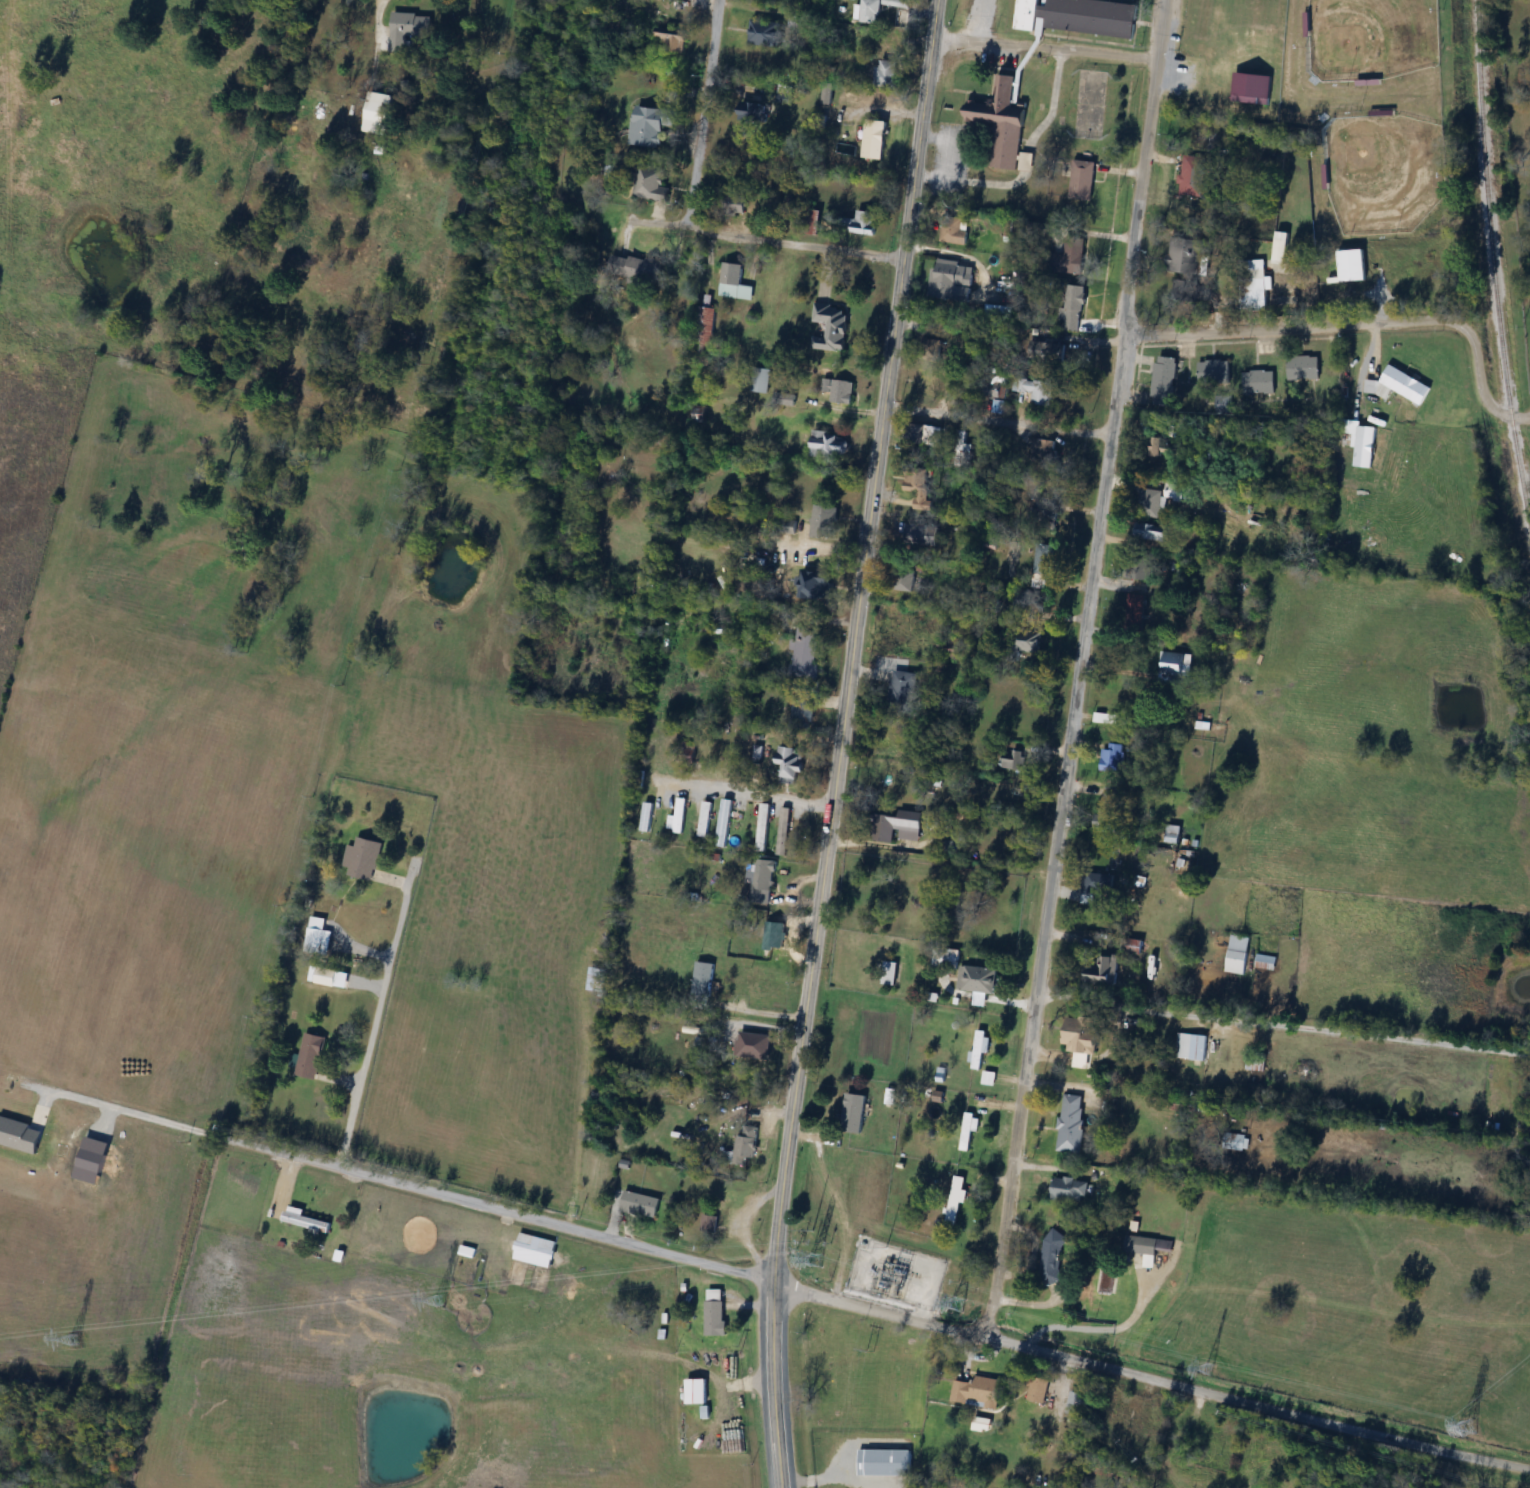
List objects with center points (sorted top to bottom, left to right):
building: (898, 3)
road: (375, 7)
building: (868, 11)
building: (1077, 17)
building: (795, 20)
building: (408, 30)
building: (765, 32)
building: (674, 38)
building: (885, 42)
road: (1045, 46)
building: (887, 73)
building: (751, 111)
road: (701, 112)
building: (379, 113)
building: (1001, 122)
building: (649, 126)
building: (1201, 133)
building: (874, 139)
building: (1192, 176)
building: (1082, 180)
building: (651, 184)
building: (735, 205)
building: (812, 221)
building: (865, 222)
building: (954, 232)
building: (1013, 232)
road: (765, 239)
building: (1281, 247)
building: (1185, 255)
building: (1069, 257)
building: (1353, 265)
railway: (1493, 269)
building: (636, 270)
building: (951, 280)
building: (734, 282)
building: (1254, 284)
building: (1183, 288)
building: (1073, 308)
road: (1346, 325)
building: (705, 327)
building: (831, 327)
building: (933, 348)
building: (1046, 352)
building: (1303, 367)
building: (1214, 372)
building: (1165, 377)
building: (760, 380)
building: (1258, 382)
building: (1406, 384)
building: (927, 386)
building: (1371, 386)
building: (839, 390)
building: (1041, 393)
road: (1520, 418)
road: (995, 421)
building: (922, 434)
building: (829, 445)
building: (1162, 446)
building: (1365, 446)
building: (963, 448)
building: (1043, 449)
building: (921, 488)
building: (1157, 498)
building: (1047, 513)
building: (824, 521)
building: (1150, 531)
building: (1043, 560)
building: (1141, 568)
building: (814, 586)
building: (1023, 601)
building: (1028, 641)
building: (806, 651)
building: (1174, 664)
road: (1076, 667)
building: (899, 693)
road: (843, 708)
building: (802, 712)
building: (1112, 757)
building: (1015, 758)
building: (790, 764)
road: (745, 791)
building: (646, 816)
building: (678, 816)
building: (705, 818)
building: (723, 822)
building: (910, 824)
building: (763, 827)
building: (884, 827)
building: (783, 831)
building: (362, 857)
building: (761, 880)
building: (1096, 886)
building: (316, 934)
building: (774, 938)
building: (1132, 946)
building: (1238, 955)
building: (945, 957)
building: (1265, 962)
building: (1103, 971)
building: (331, 977)
building: (595, 979)
building: (703, 979)
building: (980, 980)
road: (377, 1009)
road: (756, 1012)
road: (1282, 1022)
building: (1081, 1033)
building: (753, 1046)
building: (1190, 1047)
building: (979, 1050)
building: (310, 1056)
building: (847, 1114)
building: (1071, 1124)
road: (194, 1127)
building: (969, 1130)
building: (1240, 1142)
building: (745, 1148)
building: (1070, 1190)
building: (958, 1197)
building: (640, 1205)
road: (540, 1219)
building: (708, 1225)
building: (1149, 1246)
building: (535, 1250)
building: (1052, 1258)
power substation: (896, 1275)
power tower: (896, 1275)
power tower: (437, 1302)
building: (715, 1313)
road: (1102, 1329)
power tower: (76, 1341)
power tower: (1207, 1370)
road: (1134, 1374)
building: (1038, 1389)
building: (697, 1392)
building: (979, 1392)
building: (1075, 1403)
power tower: (1472, 1430)
road: (780, 1453)
building: (885, 1463)

